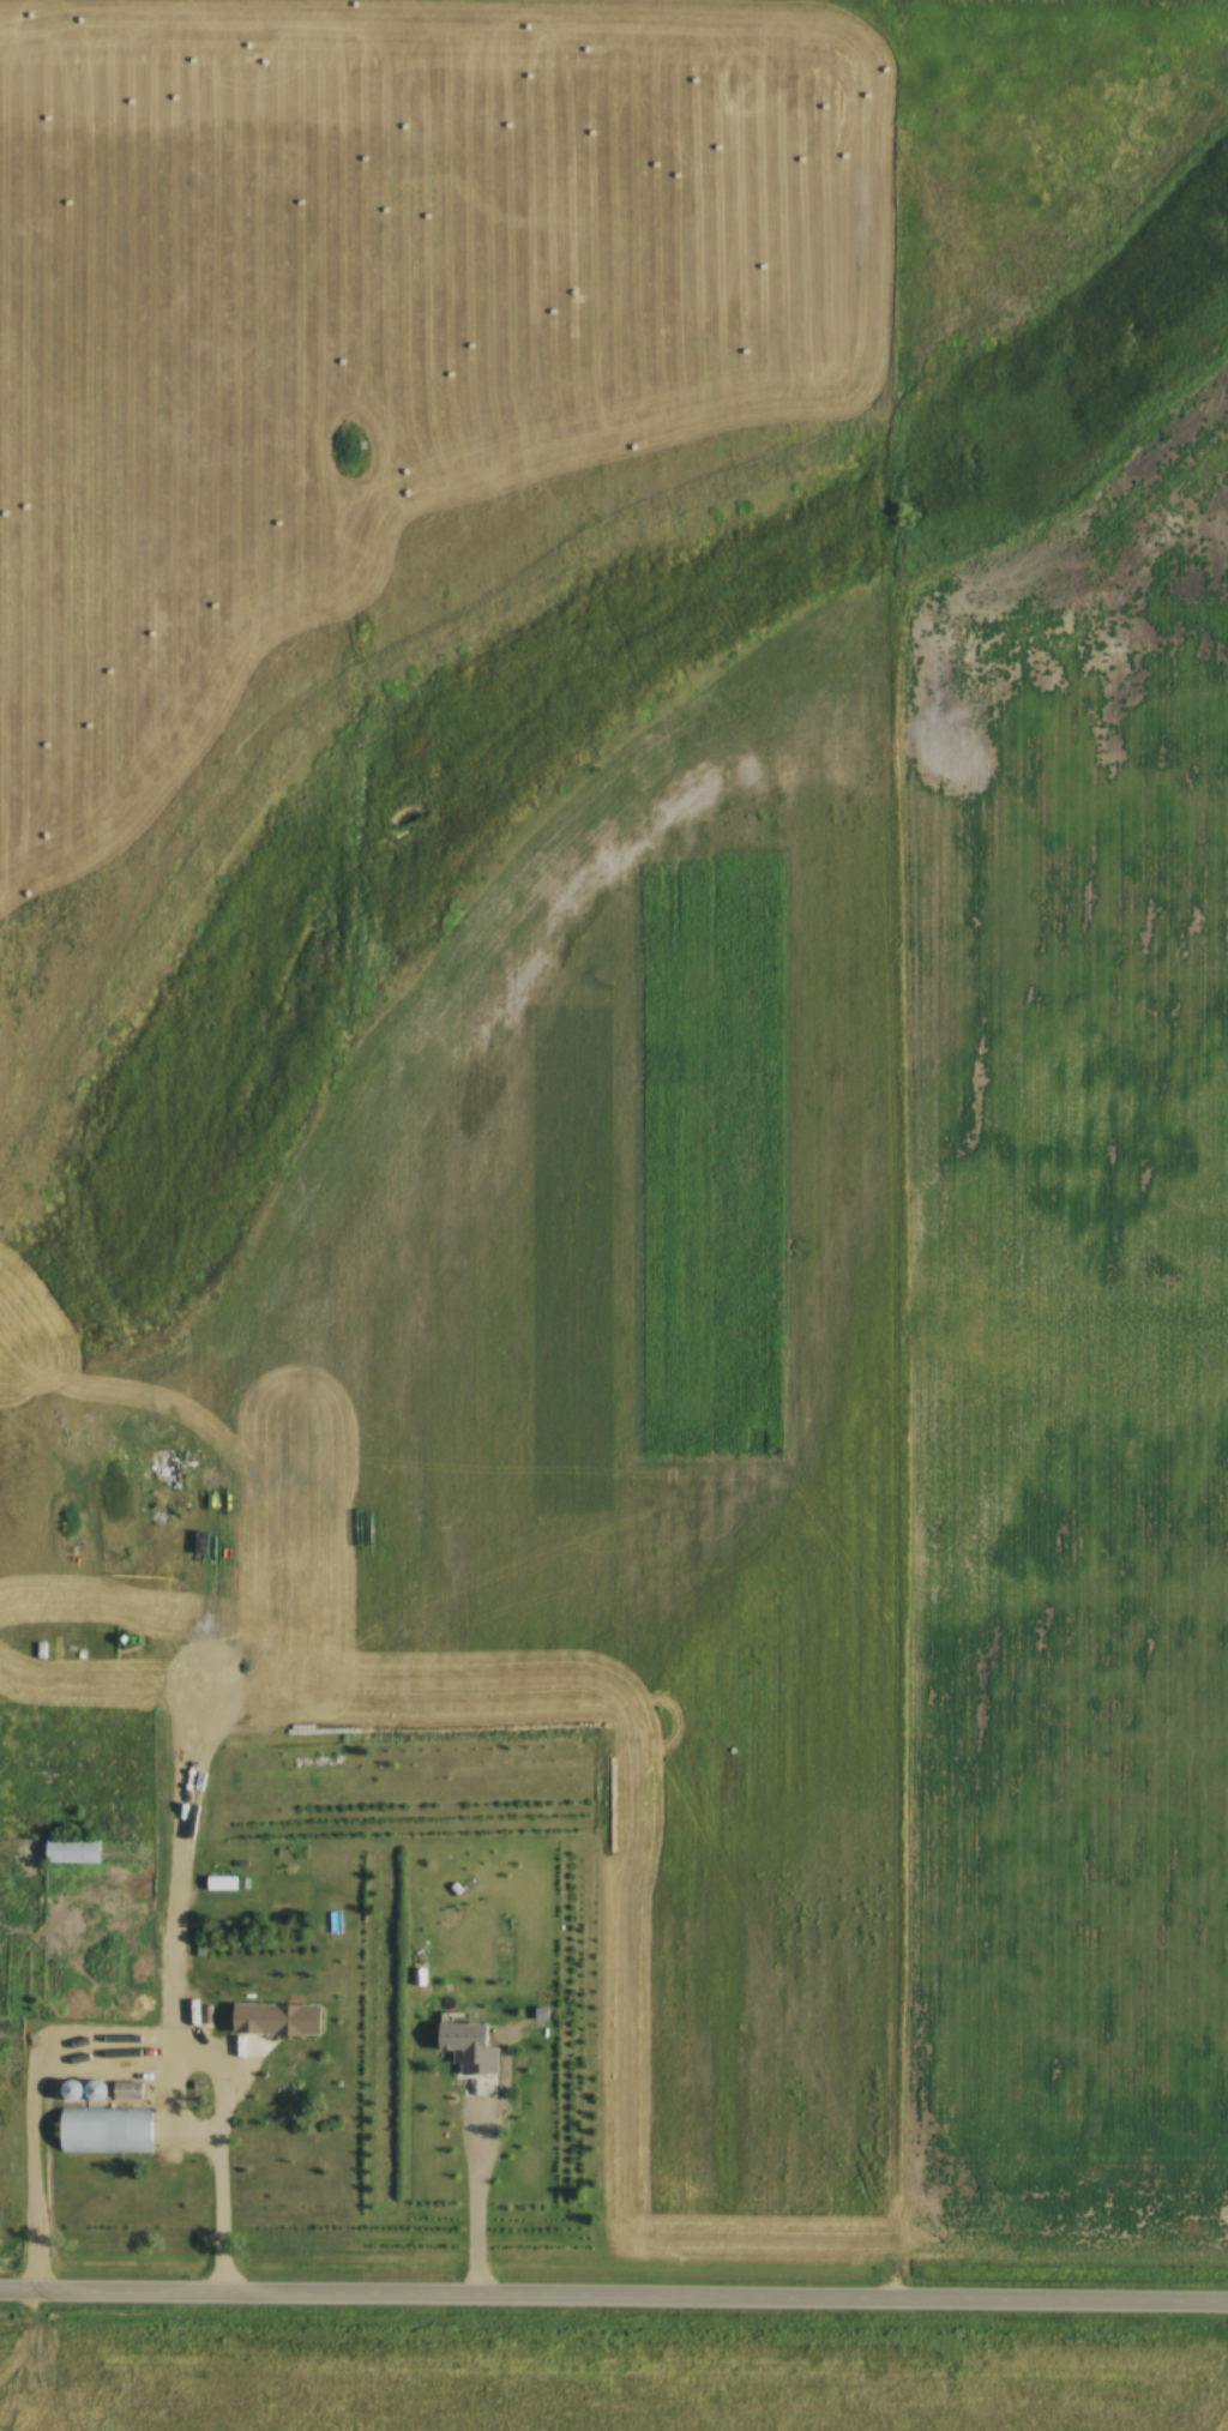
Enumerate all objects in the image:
building: (74, 1848)
building: (224, 1974)
building: (219, 2008)
building: (281, 2070)
building: (107, 2129)
road: (614, 2300)

